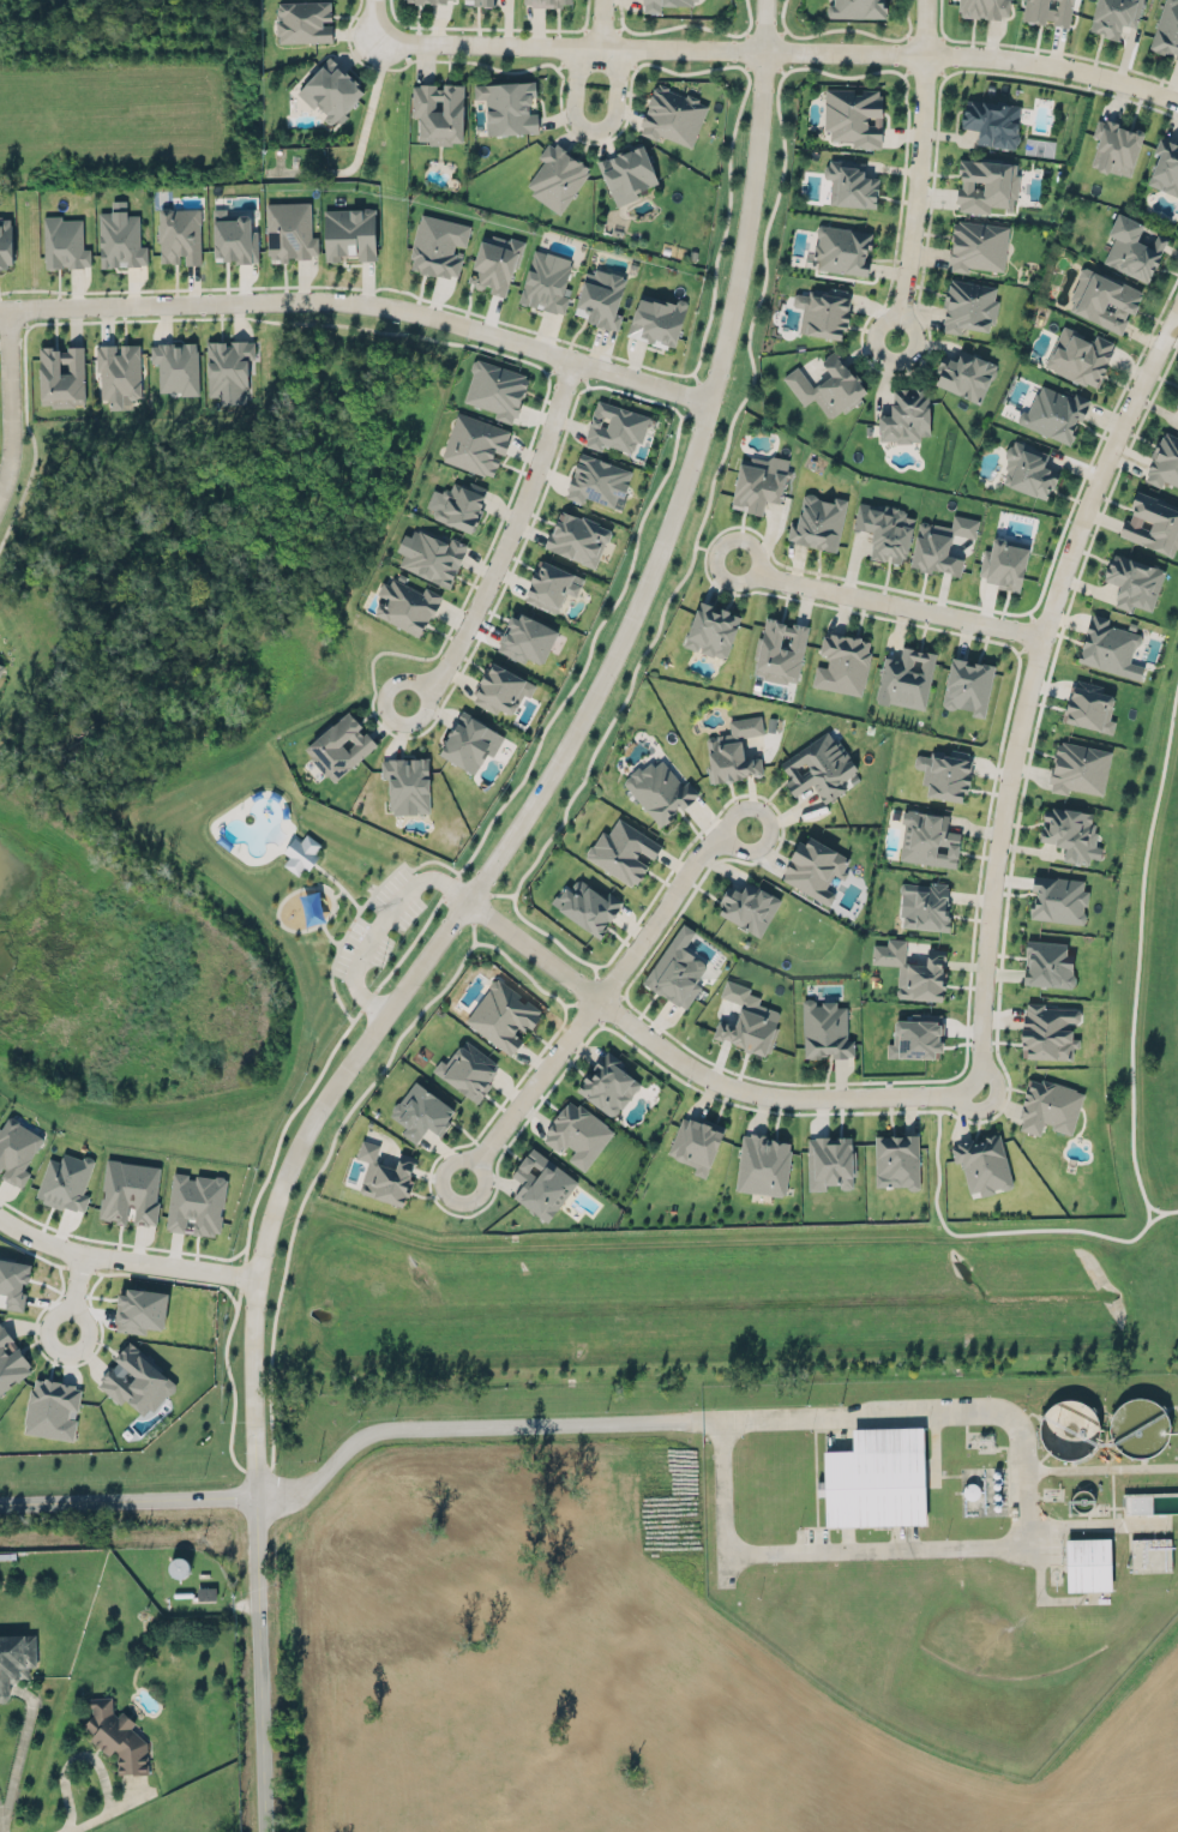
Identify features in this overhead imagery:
building: (431, 0)
building: (683, 0)
building: (485, 1)
building: (545, 1)
building: (653, 4)
building: (857, 7)
building: (986, 7)
building: (1048, 10)
building: (1114, 14)
road: (373, 18)
building: (303, 19)
road: (602, 23)
building: (1166, 29)
road: (783, 48)
building: (331, 88)
building: (507, 104)
building: (439, 110)
road: (1165, 112)
building: (673, 113)
building: (854, 114)
building: (993, 120)
road: (565, 124)
road: (593, 128)
road: (902, 133)
road: (948, 133)
road: (782, 138)
building: (1116, 144)
building: (1165, 164)
road: (919, 169)
building: (627, 170)
road: (933, 170)
building: (558, 175)
building: (851, 181)
building: (986, 182)
building: (289, 228)
building: (234, 230)
building: (180, 233)
building: (349, 233)
building: (120, 238)
building: (5, 241)
building: (65, 241)
building: (438, 245)
building: (978, 245)
building: (842, 247)
building: (1134, 247)
building: (497, 262)
building: (546, 280)
building: (601, 295)
building: (1104, 298)
road: (362, 301)
building: (969, 305)
road: (459, 307)
building: (823, 311)
building: (657, 318)
building: (1080, 355)
building: (120, 367)
building: (176, 367)
building: (228, 367)
building: (62, 373)
building: (966, 373)
building: (829, 384)
building: (495, 389)
road: (7, 400)
building: (1177, 402)
building: (1053, 413)
building: (906, 415)
building: (615, 425)
building: (475, 442)
building: (1165, 459)
road: (1120, 461)
building: (1028, 468)
road: (519, 479)
building: (597, 479)
building: (757, 485)
building: (461, 503)
road: (743, 517)
building: (818, 519)
building: (1152, 524)
building: (885, 528)
building: (577, 535)
road: (1059, 535)
road: (765, 539)
road: (767, 540)
road: (507, 542)
building: (940, 543)
building: (431, 554)
building: (1004, 561)
road: (797, 564)
building: (1134, 579)
building: (552, 583)
road: (886, 602)
building: (405, 603)
road: (805, 603)
road: (842, 613)
building: (713, 627)
building: (528, 635)
building: (1108, 647)
building: (780, 648)
building: (842, 663)
building: (0, 667)
building: (906, 678)
building: (968, 684)
road: (1029, 685)
building: (501, 686)
road: (625, 696)
building: (1089, 704)
building: (470, 740)
building: (339, 744)
building: (734, 750)
building: (818, 767)
building: (1078, 768)
road: (552, 771)
building: (945, 773)
road: (993, 774)
building: (408, 783)
building: (660, 788)
road: (781, 818)
building: (1071, 830)
building: (927, 839)
building: (623, 851)
building: (301, 853)
building: (815, 866)
road: (503, 894)
building: (1058, 899)
building: (587, 902)
building: (749, 905)
building: (924, 906)
road: (373, 923)
road: (416, 939)
road: (1136, 944)
building: (1047, 963)
building: (914, 969)
building: (677, 972)
road: (602, 997)
building: (503, 1014)
building: (749, 1019)
building: (824, 1028)
building: (1047, 1029)
road: (590, 1033)
building: (914, 1034)
building: (468, 1069)
road: (697, 1070)
building: (608, 1085)
building: (1048, 1106)
building: (420, 1110)
building: (578, 1133)
building: (697, 1141)
building: (16, 1146)
building: (897, 1158)
building: (830, 1160)
building: (763, 1163)
building: (982, 1164)
building: (384, 1171)
building: (65, 1179)
building: (542, 1183)
building: (131, 1189)
building: (196, 1202)
road: (1172, 1209)
road: (994, 1232)
road: (125, 1260)
road: (102, 1271)
building: (13, 1281)
road: (72, 1293)
building: (142, 1307)
road: (274, 1345)
building: (11, 1361)
building: (136, 1381)
building: (52, 1406)
road: (884, 1413)
building: (1138, 1426)
wastewater plant: (1138, 1426)
building: (1068, 1428)
wastewater plant: (1069, 1429)
road: (1090, 1477)
building: (876, 1478)
wastewater plant: (877, 1478)
wastewater plant: (970, 1490)
road: (127, 1498)
wastewater plant: (1081, 1500)
building: (1136, 1503)
building: (1150, 1554)
building: (1088, 1563)
wastewater plant: (1089, 1564)
building: (206, 1593)
building: (16, 1658)
road: (259, 1664)
building: (118, 1736)
road: (17, 1754)
road: (108, 1808)
road: (0, 1816)

